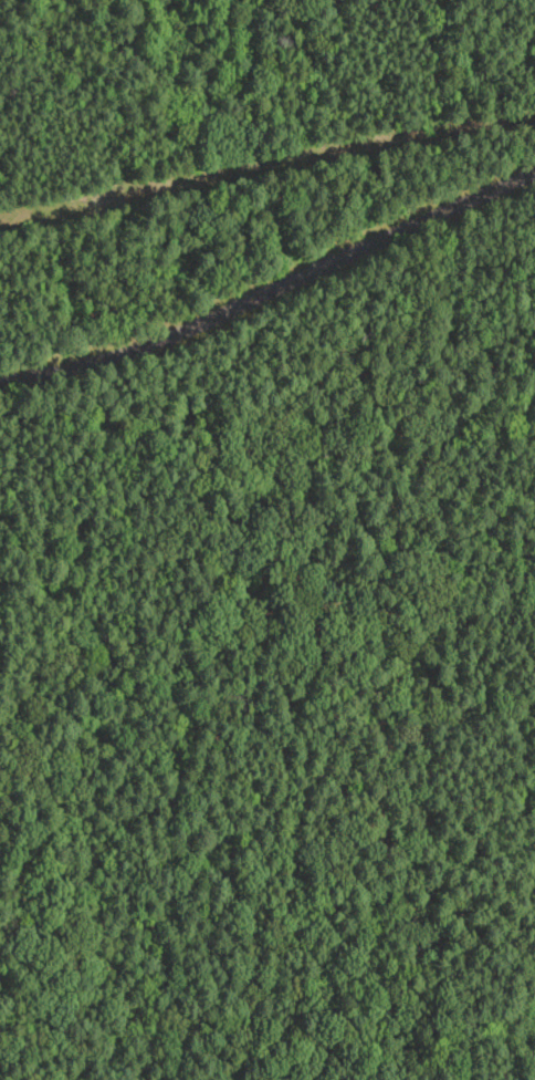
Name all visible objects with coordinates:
road: (271, 291)
park: (267, 540)

